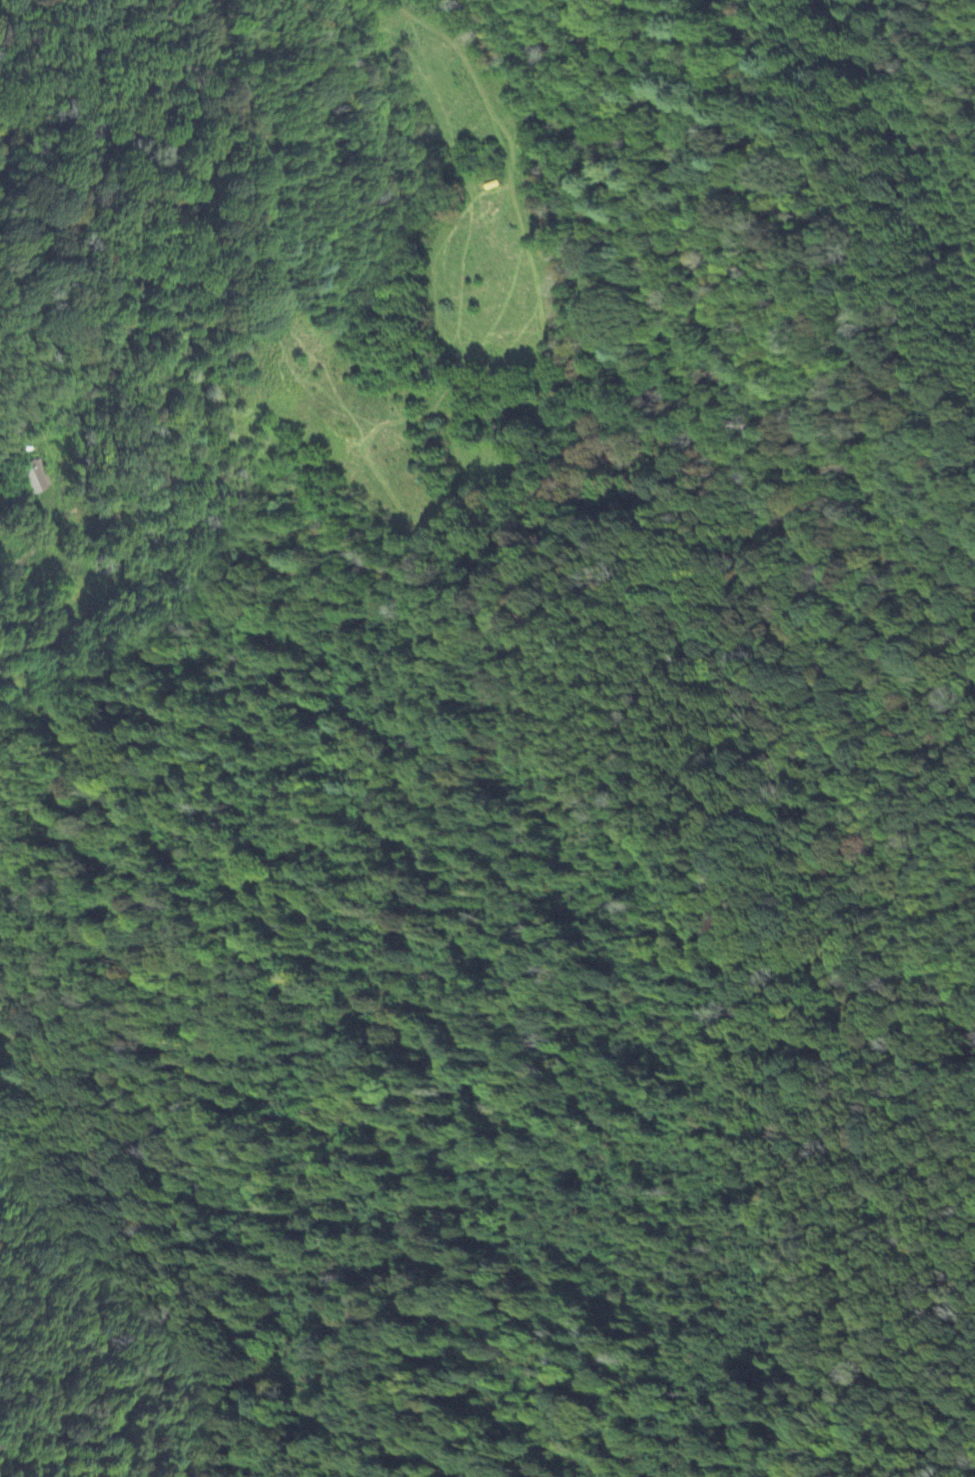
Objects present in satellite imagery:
building: (35, 476)

